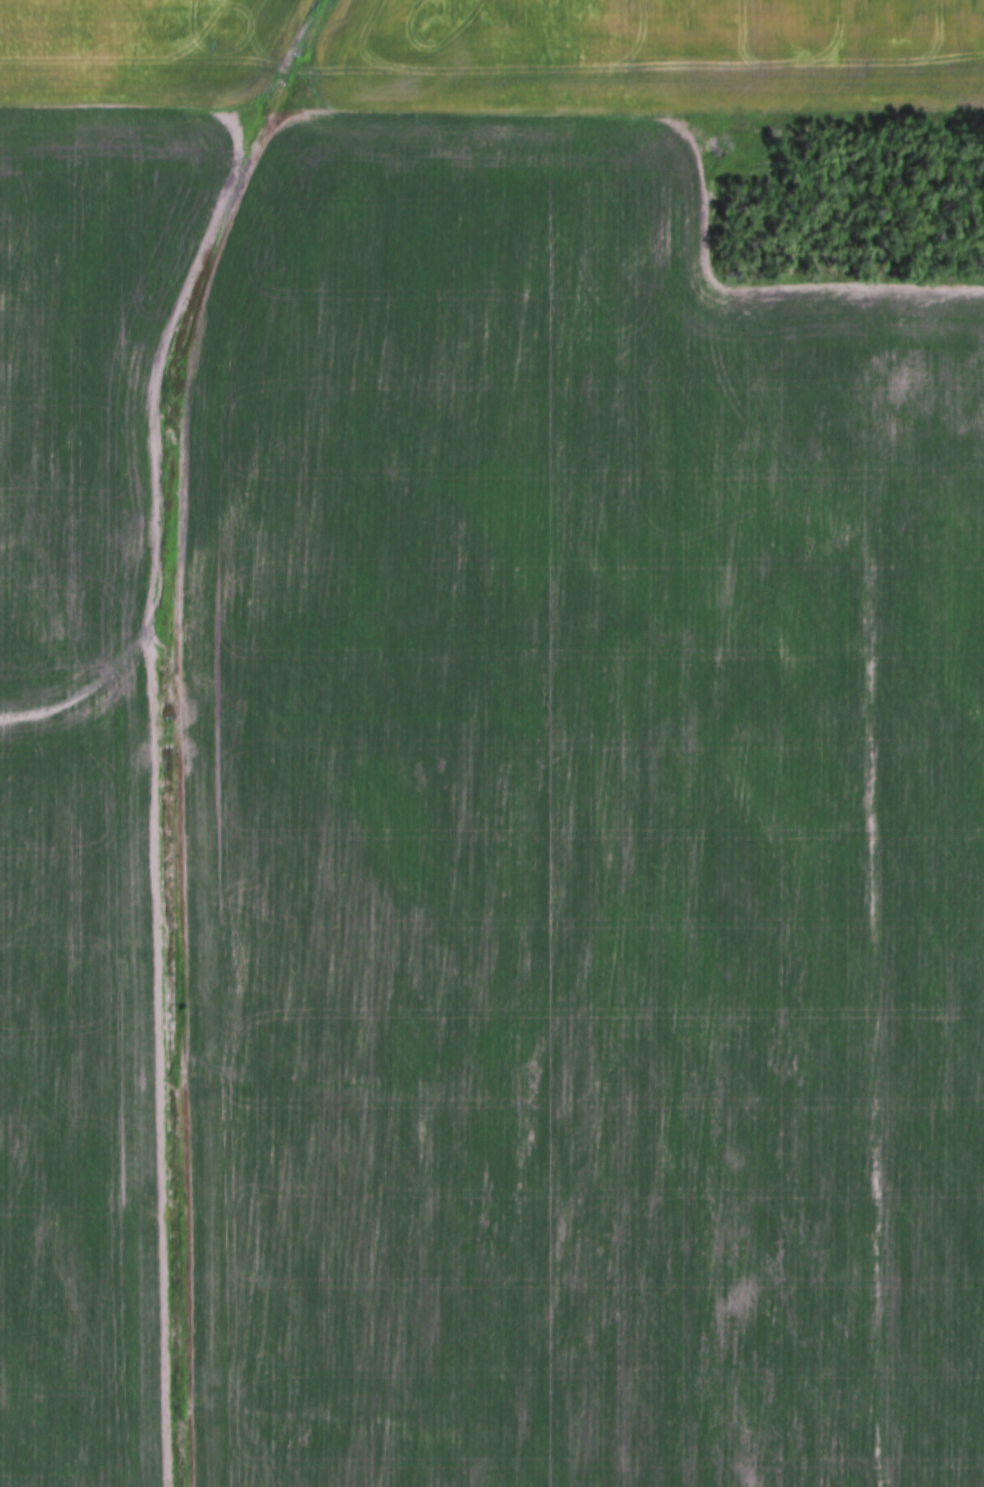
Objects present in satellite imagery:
crop: (142, 55)
crop: (656, 56)
crop: (82, 782)
crop: (576, 834)

